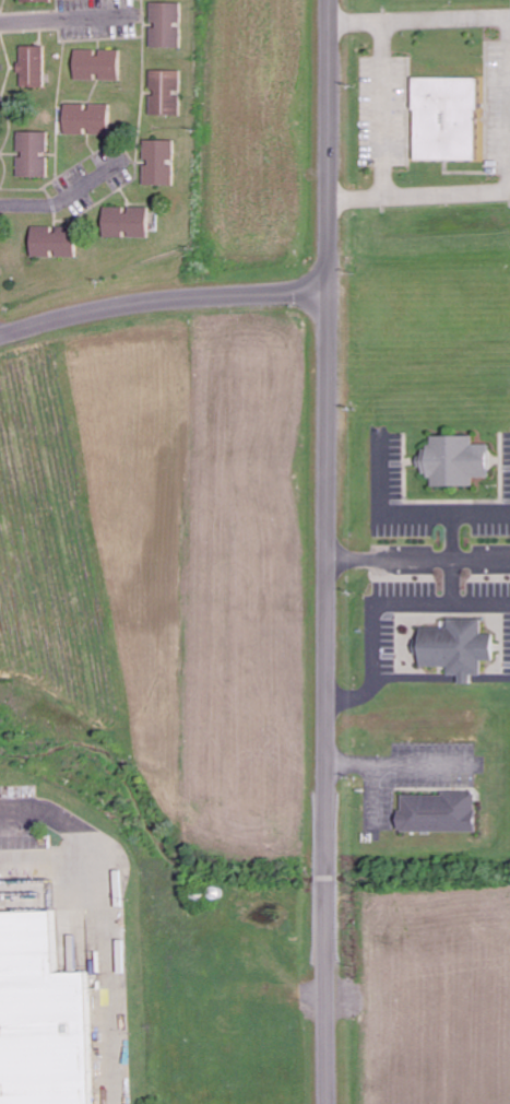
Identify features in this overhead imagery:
building: (37, 1)
road: (67, 17)
building: (165, 25)
building: (97, 64)
building: (33, 67)
building: (164, 93)
building: (444, 118)
building: (86, 119)
building: (33, 154)
building: (158, 163)
road: (64, 199)
building: (126, 223)
building: (54, 243)
road: (162, 298)
building: (455, 461)
road: (329, 551)
building: (456, 648)
building: (438, 812)
road: (111, 918)
building: (45, 1014)

